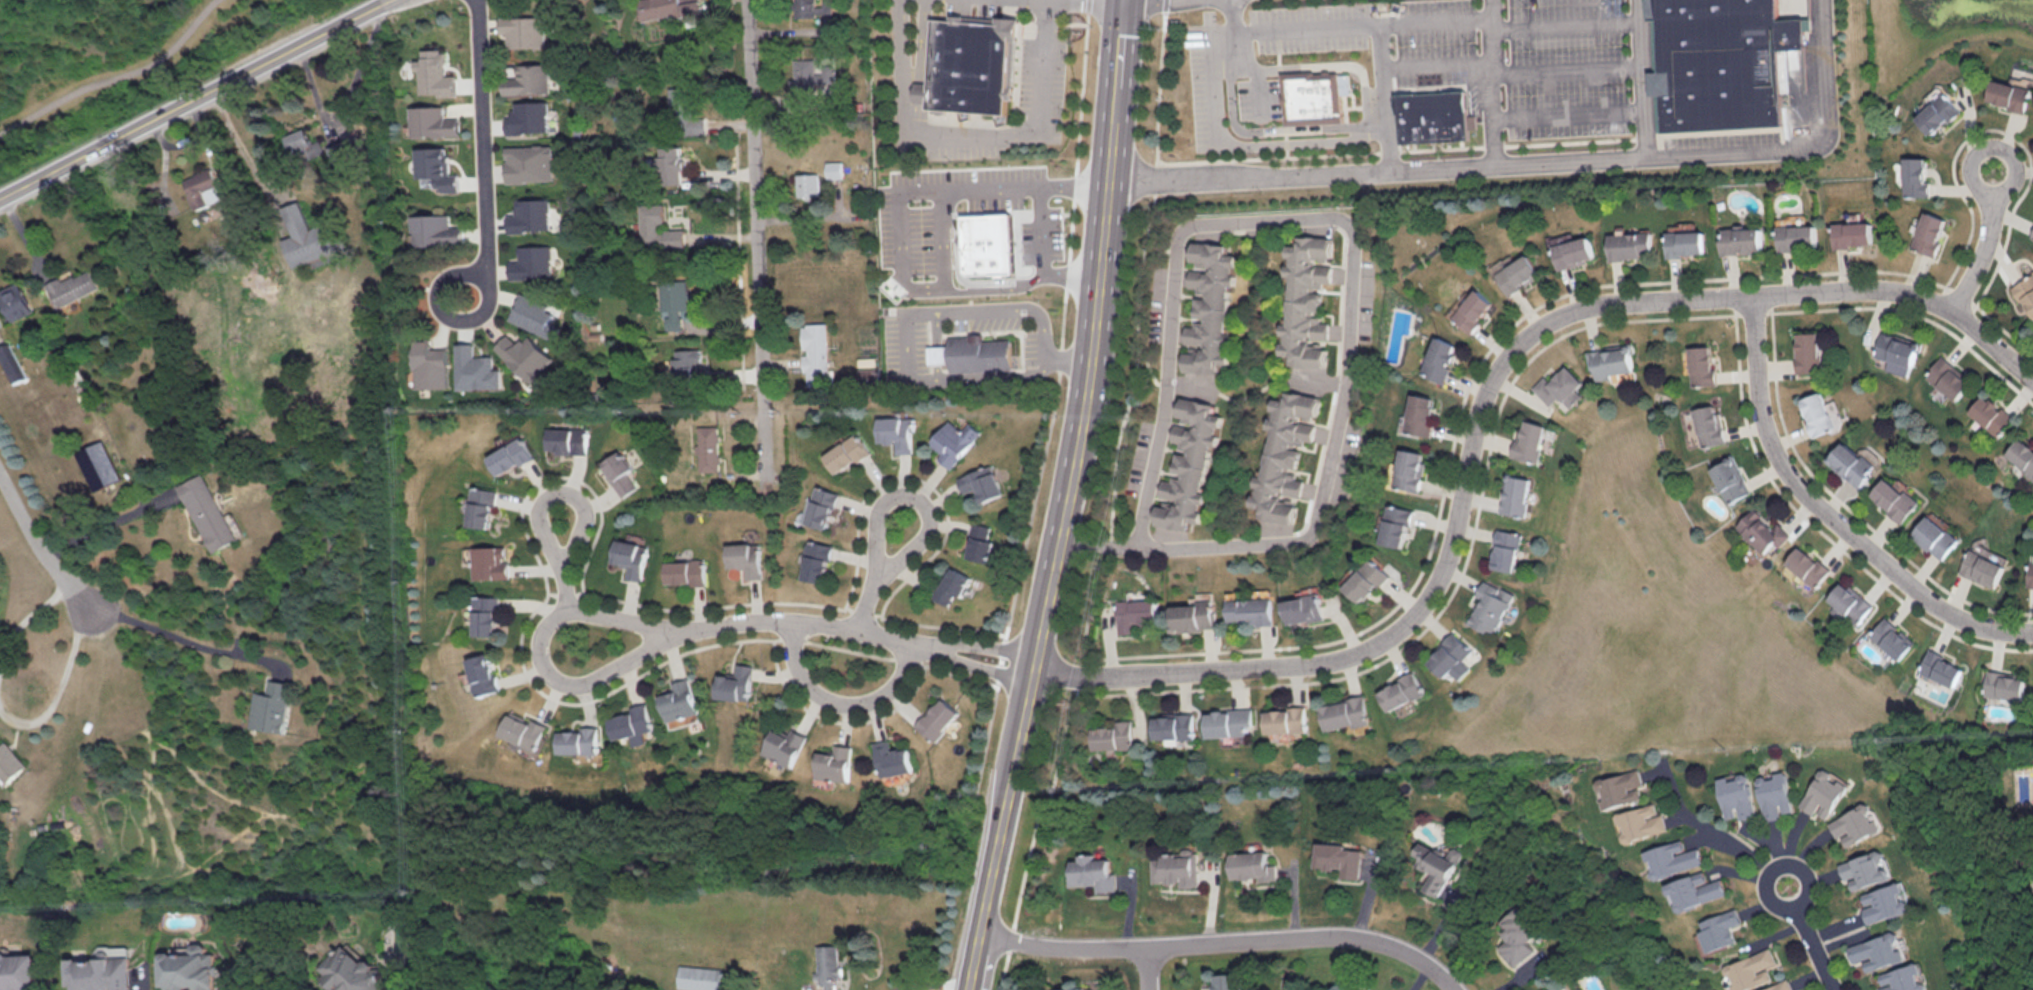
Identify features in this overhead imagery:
building: (667, 8)
building: (814, 8)
road: (1430, 21)
road: (1358, 26)
building: (523, 30)
building: (1718, 62)
road: (1434, 64)
park: (126, 65)
building: (968, 66)
building: (435, 73)
road: (115, 77)
building: (812, 77)
building: (528, 79)
road: (1490, 80)
road: (1115, 91)
building: (2011, 95)
building: (1309, 97)
road: (193, 98)
road: (347, 103)
building: (686, 109)
building: (1938, 113)
building: (1429, 115)
building: (528, 117)
building: (432, 121)
road: (971, 130)
building: (298, 140)
road: (484, 141)
road: (1799, 144)
building: (529, 162)
building: (671, 163)
road: (1453, 163)
building: (435, 167)
building: (834, 168)
building: (1915, 176)
road: (1050, 183)
building: (807, 184)
building: (202, 188)
building: (530, 215)
building: (652, 223)
road: (1321, 227)
building: (435, 229)
road: (1042, 230)
building: (1852, 233)
building: (1929, 233)
building: (2032, 233)
road: (900, 234)
building: (307, 236)
building: (1797, 236)
building: (675, 237)
building: (986, 237)
building: (1742, 240)
building: (1686, 242)
road: (756, 244)
building: (1630, 245)
road: (1985, 245)
road: (1160, 247)
building: (1307, 249)
building: (1572, 250)
road: (1346, 259)
building: (532, 262)
road: (1325, 263)
road: (942, 264)
road: (1140, 272)
building: (1518, 274)
road: (1069, 276)
building: (72, 286)
building: (2026, 292)
building: (17, 300)
building: (675, 302)
building: (1209, 307)
building: (1471, 310)
building: (534, 316)
road: (457, 321)
road: (901, 326)
road: (1094, 326)
building: (1897, 352)
building: (816, 353)
building: (1808, 353)
building: (974, 354)
building: (525, 356)
road: (1068, 356)
building: (1435, 358)
road: (1147, 359)
building: (1610, 360)
building: (12, 362)
building: (689, 362)
building: (429, 364)
building: (1700, 365)
building: (474, 368)
building: (869, 376)
building: (1948, 377)
road: (1309, 379)
road: (1330, 380)
road: (1191, 386)
building: (1558, 387)
road: (1248, 391)
road: (1055, 395)
road: (1478, 398)
building: (1819, 413)
building: (1991, 413)
building: (1414, 414)
building: (1706, 424)
building: (898, 432)
building: (567, 440)
building: (1524, 440)
building: (956, 441)
building: (709, 448)
building: (848, 453)
building: (1281, 454)
building: (2022, 455)
building: (510, 456)
building: (1853, 463)
building: (98, 464)
building: (1188, 464)
building: (1403, 469)
building: (619, 472)
building: (1728, 479)
building: (984, 482)
building: (1507, 494)
building: (1897, 499)
road: (889, 500)
road: (1066, 503)
building: (482, 506)
building: (823, 507)
building: (207, 511)
road: (1828, 515)
road: (107, 524)
building: (1390, 525)
building: (1759, 530)
building: (1937, 536)
building: (982, 542)
road: (36, 544)
road: (561, 546)
building: (1498, 549)
building: (631, 557)
building: (748, 558)
building: (818, 561)
building: (490, 562)
building: (1805, 566)
building: (1984, 566)
building: (686, 571)
building: (2032, 578)
building: (1361, 580)
building: (956, 585)
road: (1045, 602)
building: (1847, 603)
building: (1482, 606)
building: (1300, 608)
building: (1247, 610)
building: (1135, 613)
building: (486, 614)
building: (1192, 615)
road: (26, 620)
road: (851, 630)
road: (184, 637)
building: (1890, 638)
road: (538, 653)
building: (1443, 657)
building: (1939, 668)
building: (483, 673)
building: (738, 683)
building: (2003, 684)
road: (60, 690)
building: (1395, 691)
building: (679, 700)
road: (841, 702)
building: (271, 706)
building: (1340, 713)
building: (939, 718)
building: (1283, 719)
building: (1226, 722)
building: (633, 724)
building: (1171, 725)
building: (524, 732)
building: (1113, 735)
building: (580, 740)
building: (786, 745)
building: (894, 758)
building: (9, 762)
building: (836, 763)
building: (1619, 788)
building: (1825, 794)
building: (1737, 795)
building: (1776, 795)
road: (1003, 800)
building: (1641, 822)
building: (1856, 824)
road: (1707, 830)
building: (1337, 858)
building: (1672, 858)
road: (1781, 864)
building: (1252, 865)
building: (1435, 865)
building: (1176, 868)
building: (1865, 869)
building: (1094, 873)
building: (1695, 890)
building: (1885, 902)
building: (1718, 929)
building: (1518, 934)
road: (1222, 940)
road: (1815, 949)
building: (1876, 951)
road: (971, 961)
building: (828, 965)
building: (189, 968)
road: (1150, 968)
building: (1750, 969)
building: (18, 971)
building: (353, 971)
building: (701, 977)
building: (1902, 978)
building: (1229, 982)
road: (931, 983)
building: (1779, 986)
building: (1552, 988)
building: (1073, 989)

